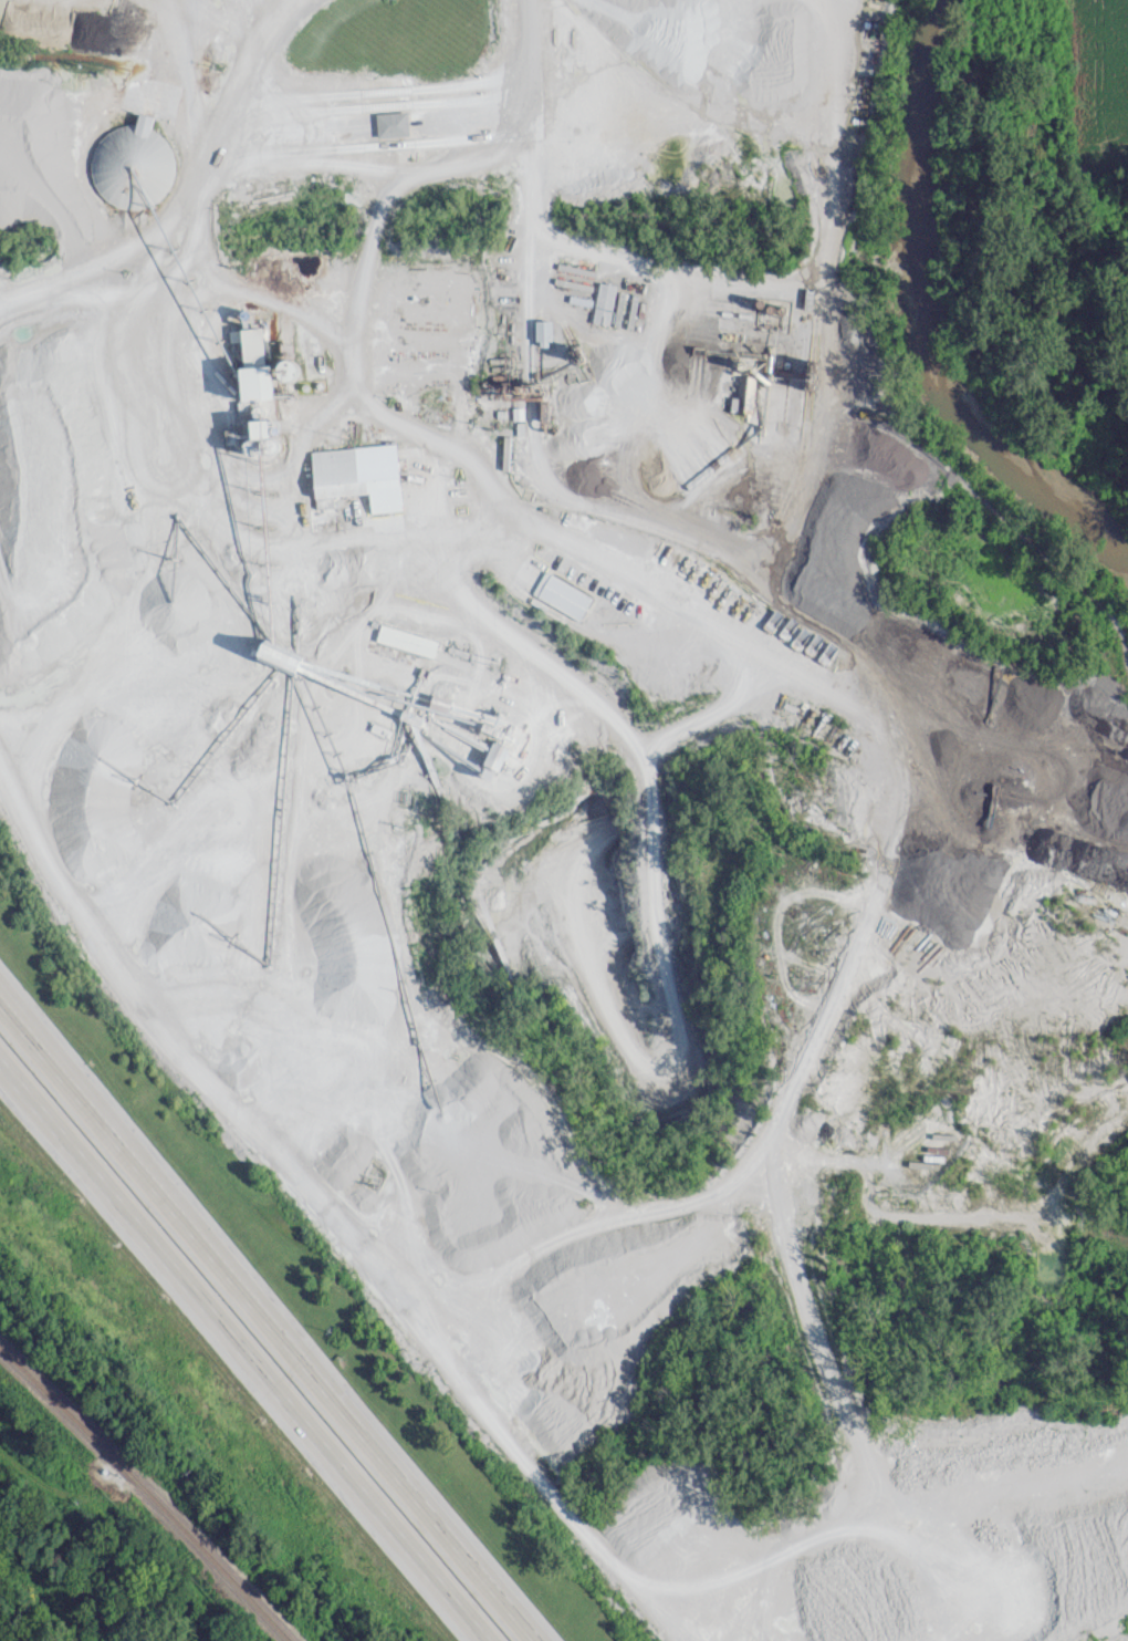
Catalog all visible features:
road: (528, 39)
building: (391, 123)
building: (133, 164)
building: (604, 302)
building: (543, 332)
building: (254, 364)
building: (357, 475)
building: (562, 594)
building: (407, 640)
quarry: (551, 730)
road: (4, 1012)
road: (263, 1325)
road: (244, 1349)
railway: (145, 1492)

